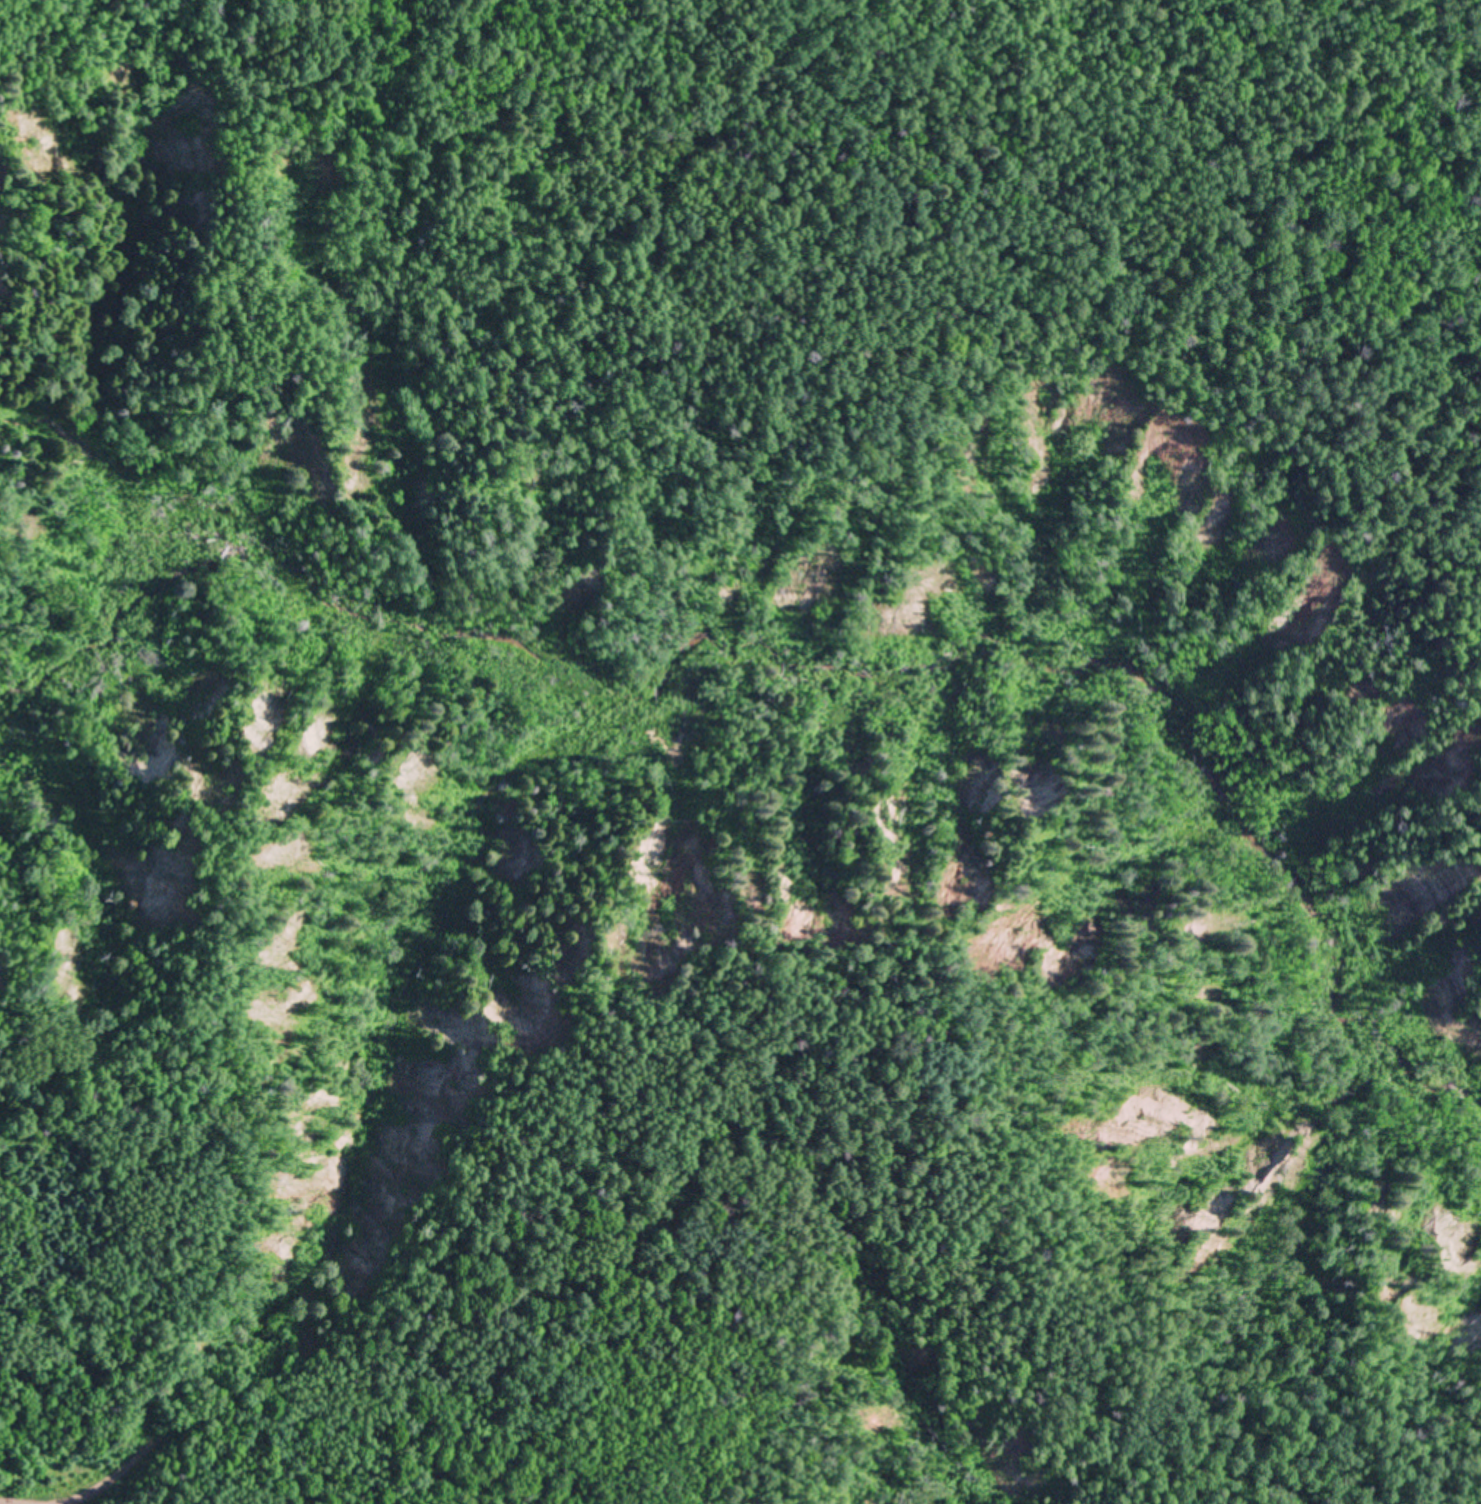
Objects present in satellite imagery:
road: (1, 1503)

